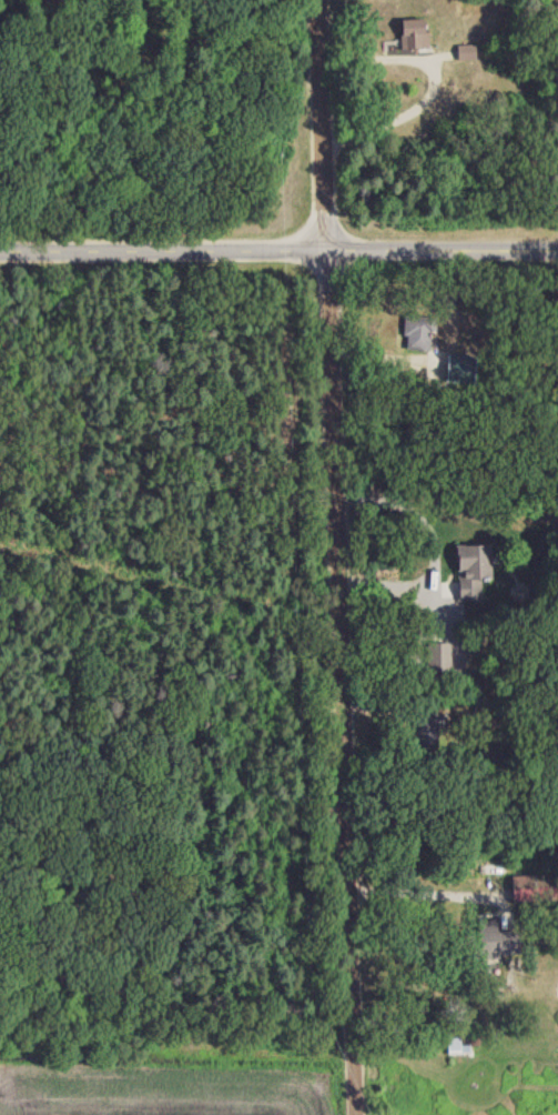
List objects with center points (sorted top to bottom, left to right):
building: (412, 33)
building: (465, 51)
road: (434, 83)
road: (278, 254)
building: (417, 331)
road: (384, 354)
road: (437, 550)
road: (336, 556)
building: (470, 570)
building: (438, 656)
building: (428, 727)
road: (412, 885)
building: (530, 887)
building: (490, 940)
building: (455, 1045)
crop: (165, 1083)

